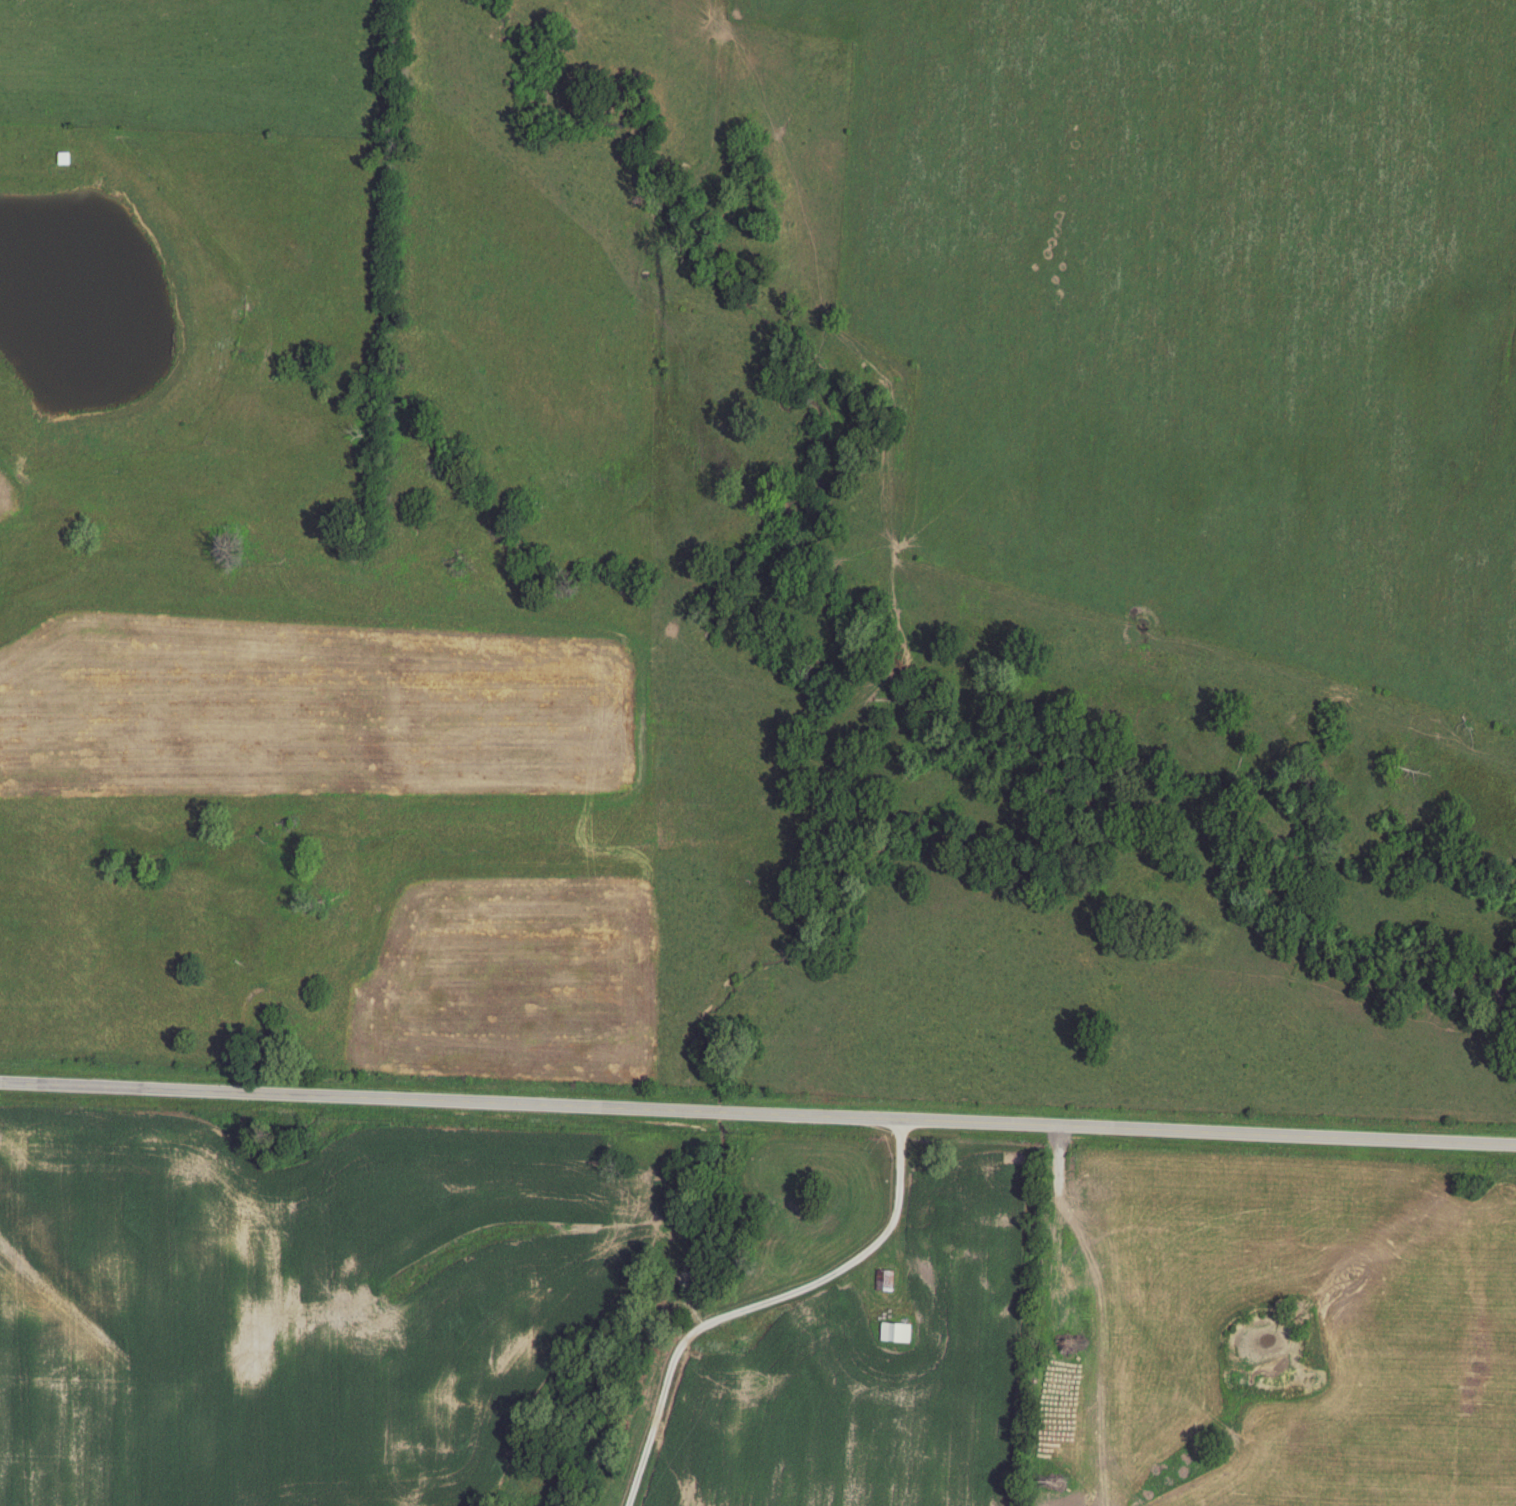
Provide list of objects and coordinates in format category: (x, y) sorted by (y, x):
road: (821, 294)
road: (757, 1113)
road: (760, 1305)
road: (860, 1323)
road: (496, 1331)

